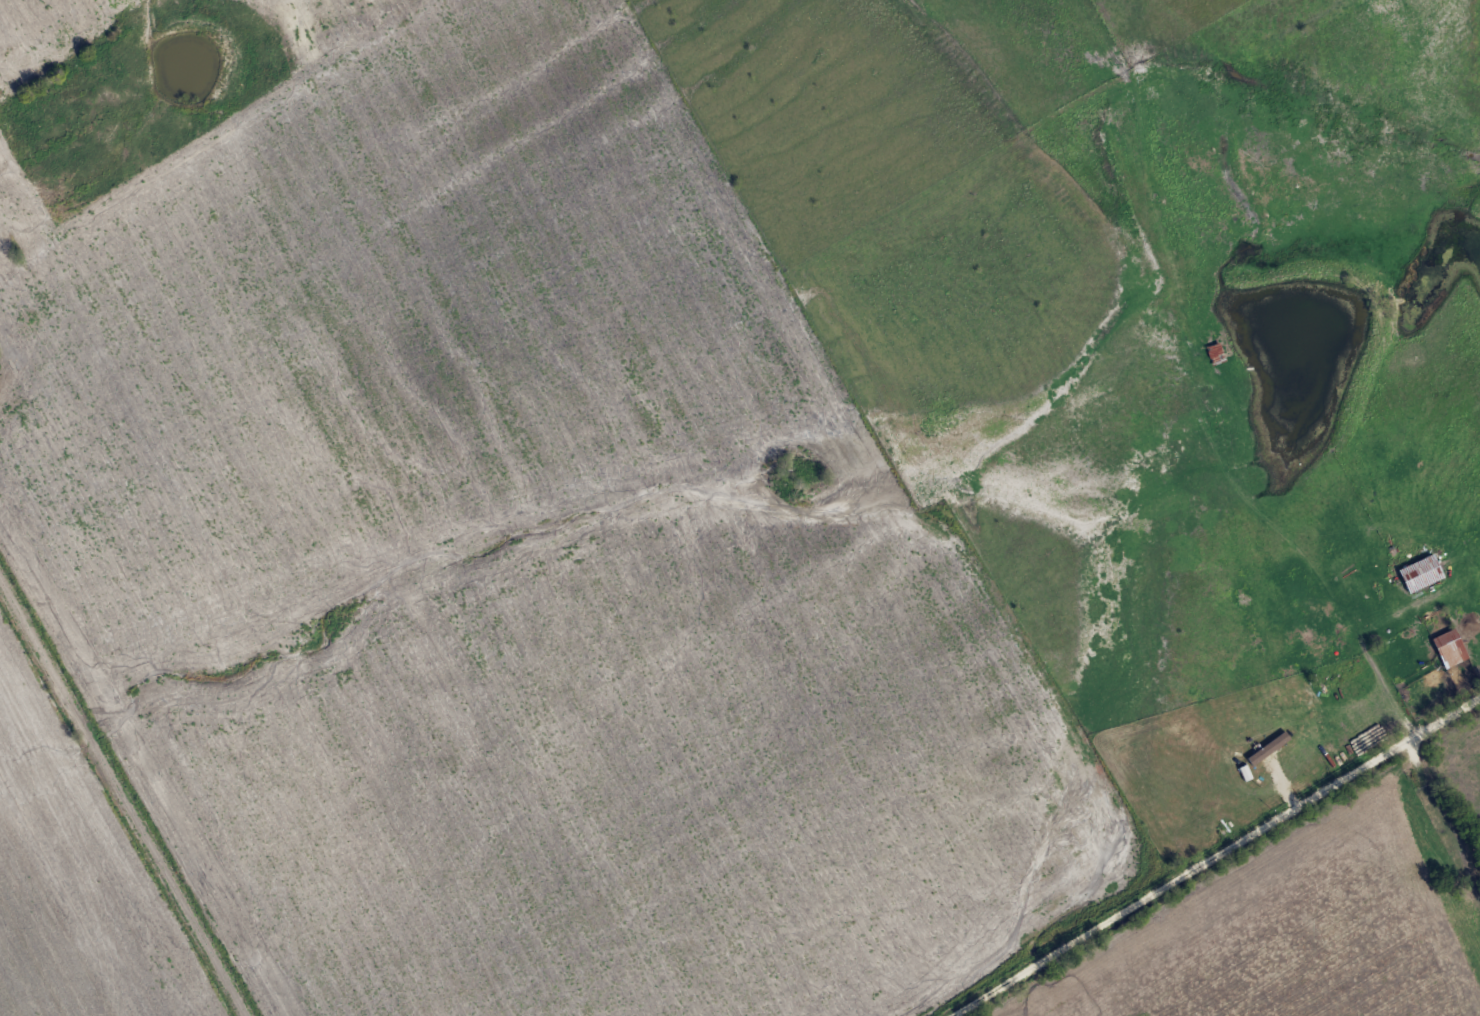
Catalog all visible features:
building: (1213, 351)
building: (1418, 572)
building: (1448, 647)
road: (1397, 674)
road: (127, 795)
road: (1222, 860)

